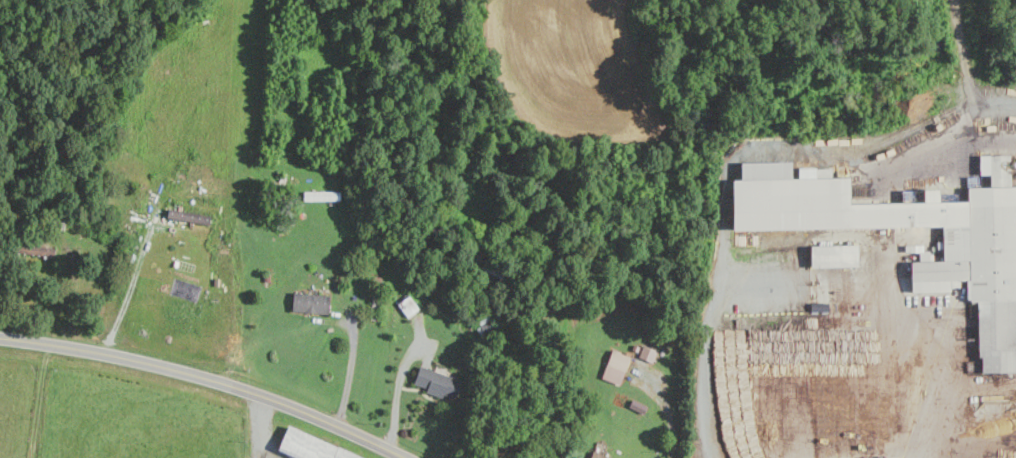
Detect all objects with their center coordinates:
road: (729, 161)
building: (186, 215)
building: (31, 249)
building: (832, 255)
building: (962, 267)
road: (72, 297)
building: (309, 302)
building: (614, 367)
road: (349, 375)
road: (208, 379)
building: (435, 383)
road: (396, 398)
road: (950, 402)
building: (636, 405)
road: (667, 410)
road: (263, 427)
building: (598, 451)

